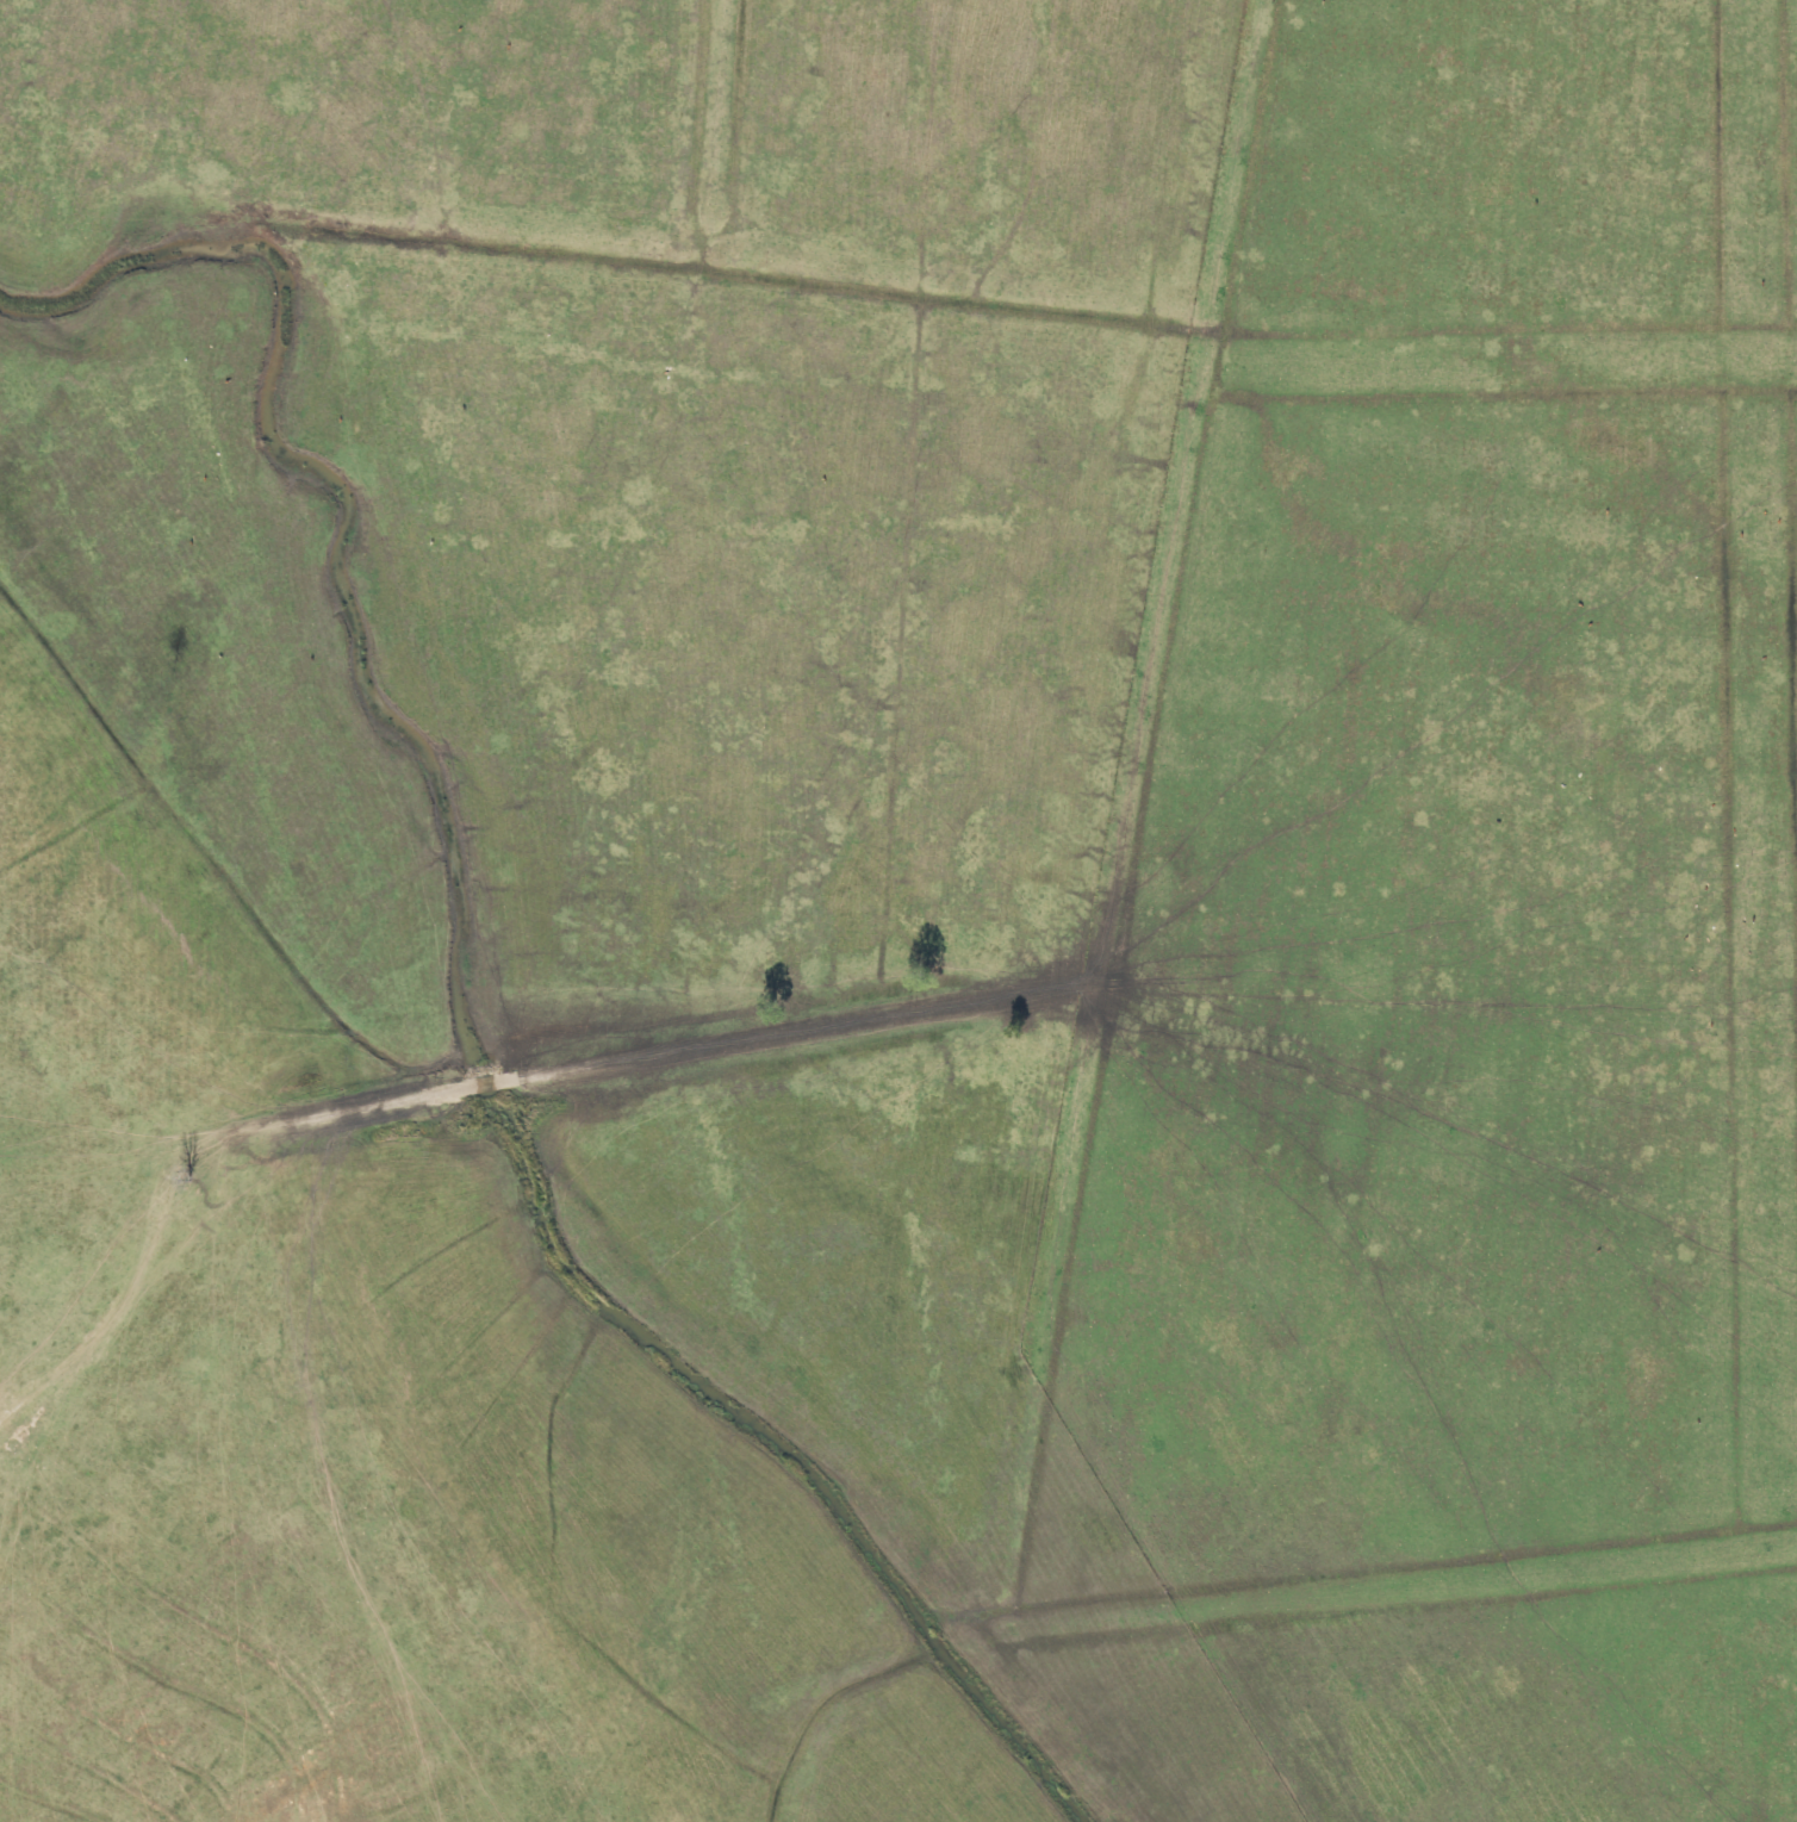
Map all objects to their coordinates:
road: (48, 1342)

